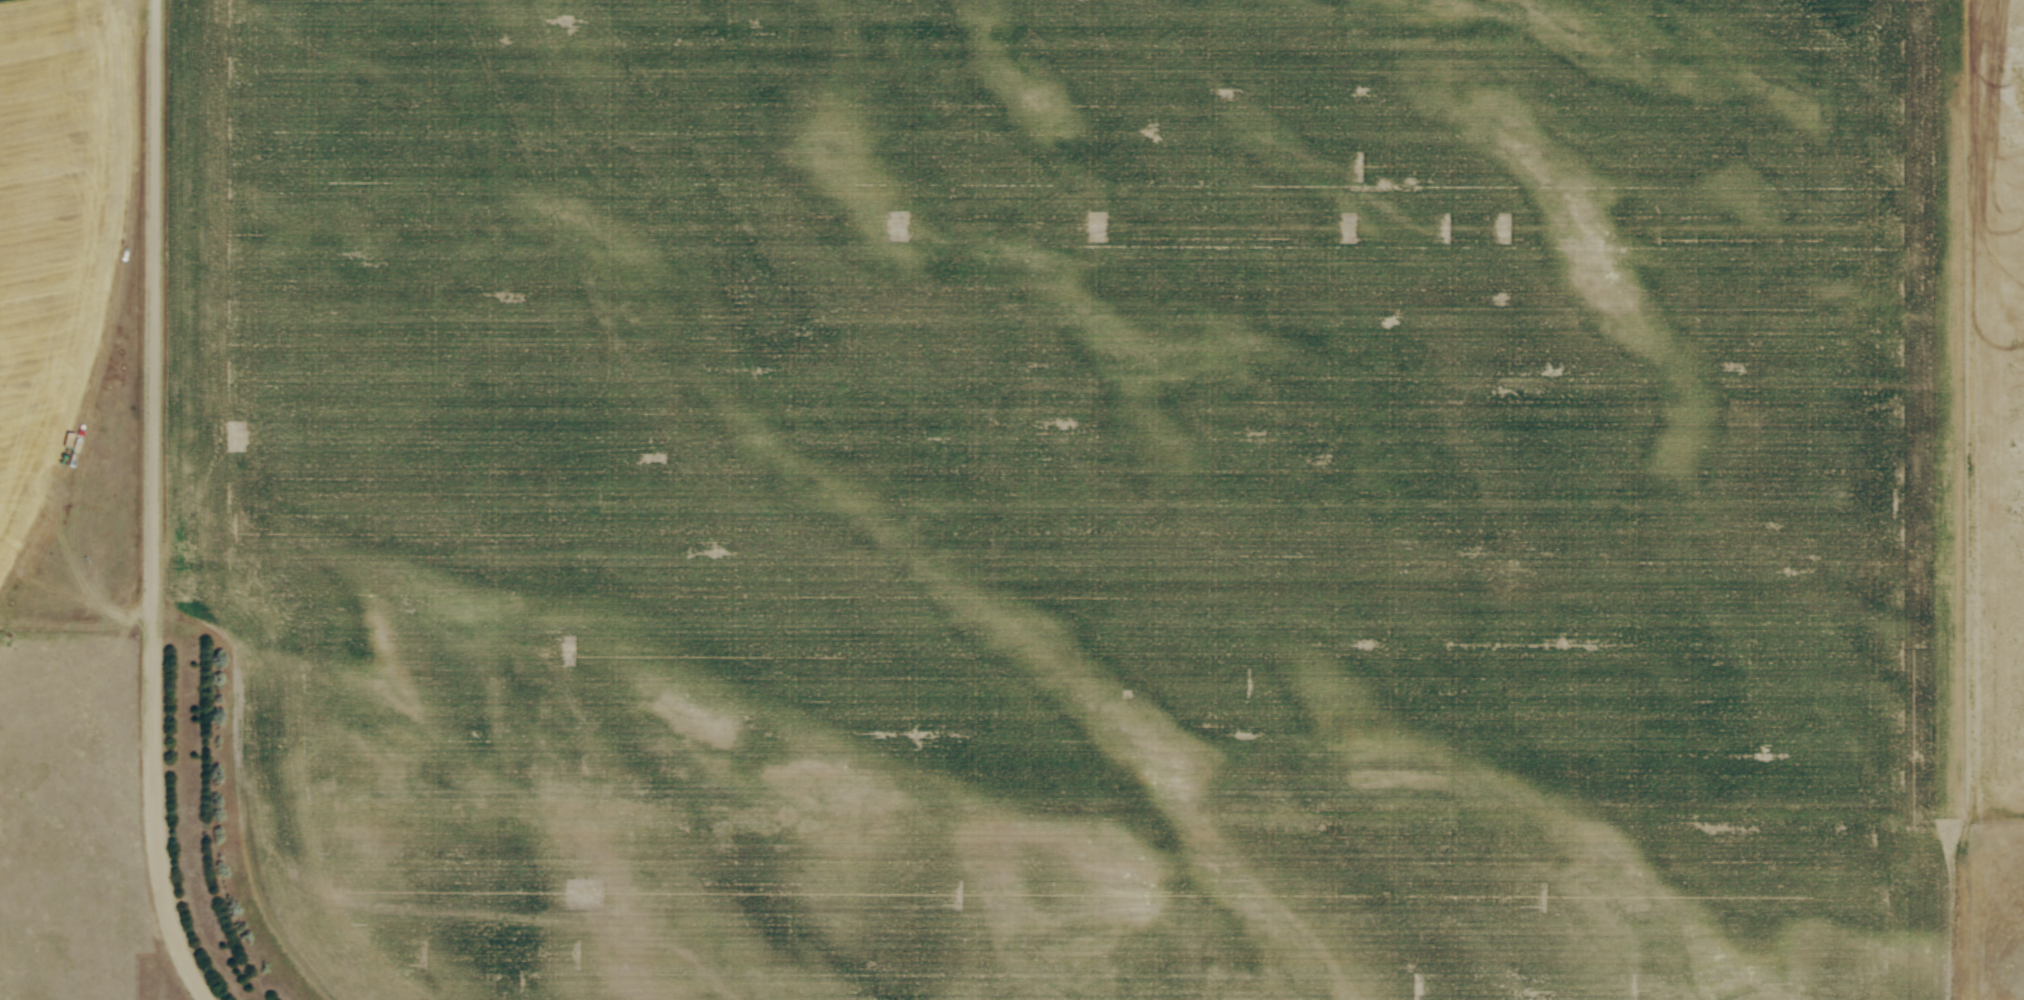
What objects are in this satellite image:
crop: (53, 196)
crop: (1997, 393)
road: (152, 505)

